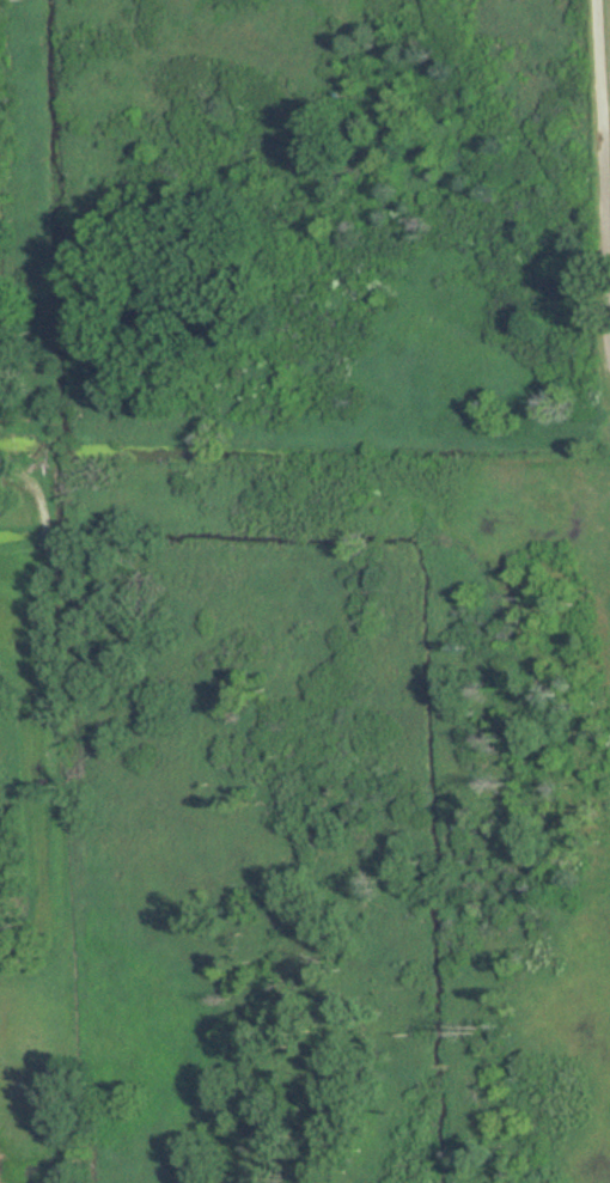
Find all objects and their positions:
road: (608, 170)
road: (605, 176)

